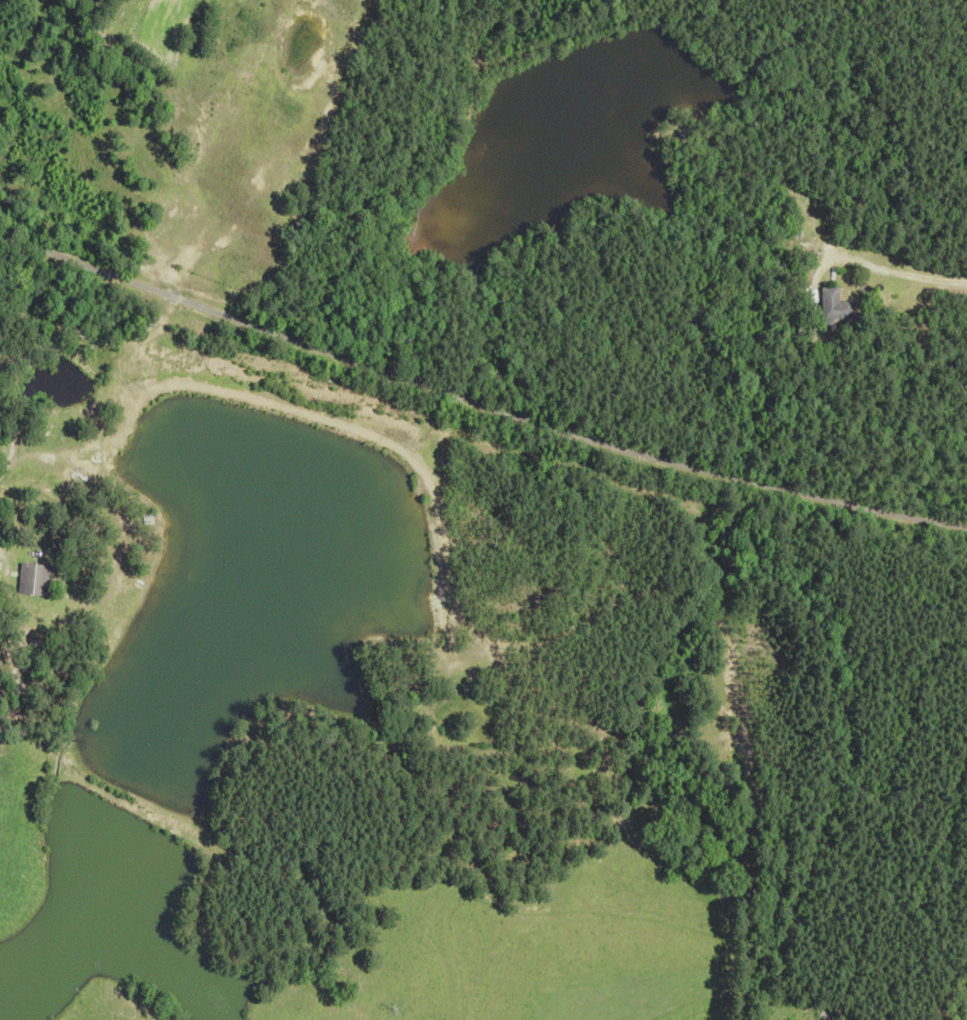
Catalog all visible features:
road: (872, 265)
building: (837, 304)
road: (477, 405)
building: (36, 580)
building: (829, 1015)

